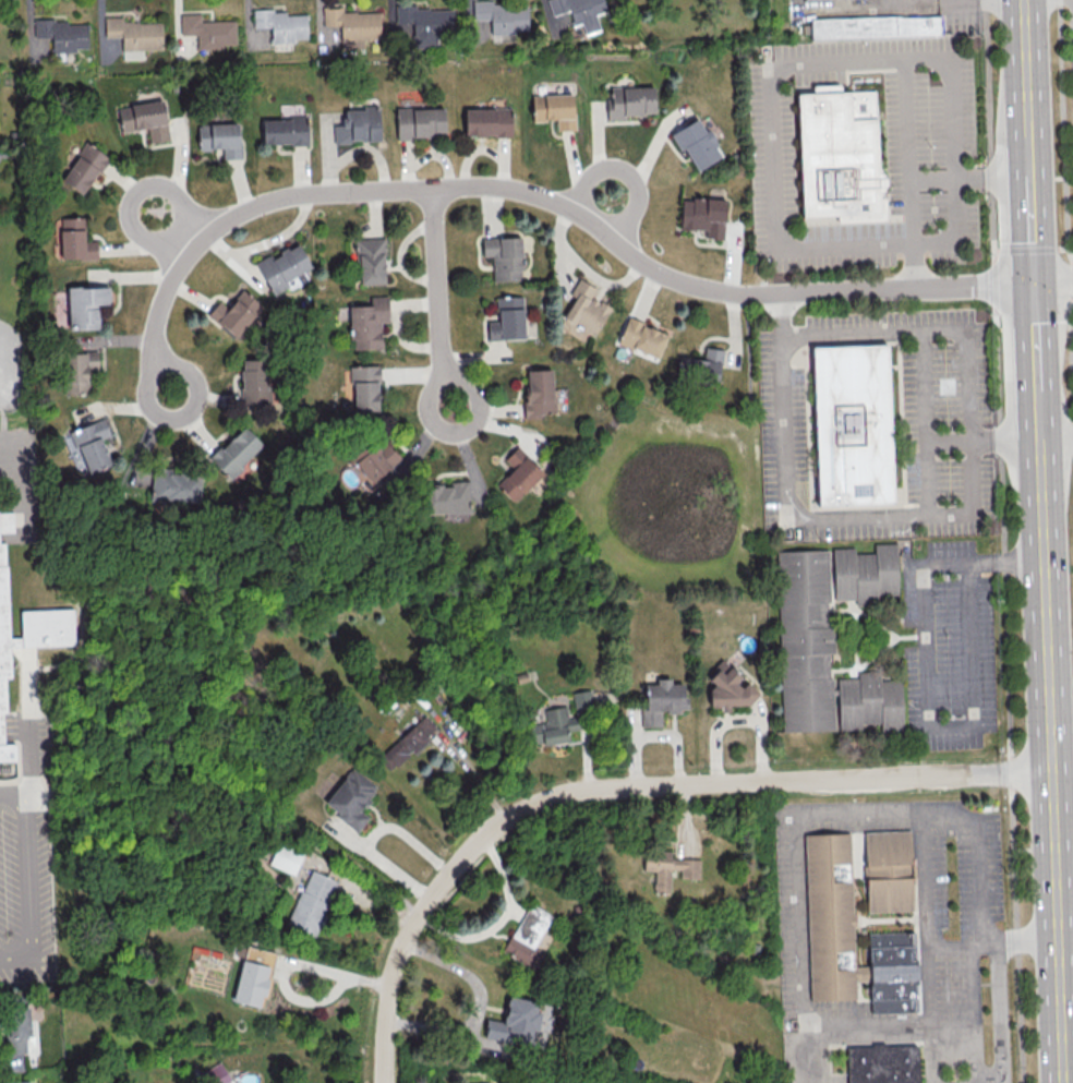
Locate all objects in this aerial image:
building: (811, 0)
road: (965, 0)
road: (963, 1)
road: (891, 2)
road: (917, 3)
road: (840, 8)
building: (579, 11)
building: (502, 15)
building: (282, 24)
building: (427, 24)
building: (352, 25)
building: (877, 27)
building: (208, 31)
building: (63, 34)
building: (134, 36)
road: (1025, 61)
road: (803, 63)
building: (630, 100)
building: (554, 109)
building: (144, 119)
building: (420, 121)
building: (486, 121)
building: (358, 125)
building: (284, 130)
road: (1063, 132)
building: (219, 137)
building: (696, 143)
road: (1028, 149)
building: (841, 154)
road: (908, 154)
building: (84, 168)
road: (625, 170)
road: (936, 179)
road: (505, 186)
road: (131, 190)
building: (703, 215)
road: (955, 229)
road: (1033, 229)
building: (74, 239)
building: (503, 256)
building: (370, 261)
road: (916, 267)
building: (284, 268)
traffic signals: (1036, 281)
road: (1054, 281)
road: (977, 284)
road: (436, 300)
building: (85, 305)
building: (584, 308)
building: (234, 313)
road: (781, 313)
building: (507, 318)
park: (4, 323)
building: (366, 323)
road: (1038, 333)
building: (641, 337)
road: (1071, 348)
road: (169, 362)
building: (700, 366)
building: (77, 370)
road: (923, 374)
building: (254, 381)
building: (364, 387)
building: (538, 393)
road: (1040, 412)
building: (855, 424)
road: (970, 424)
road: (1057, 440)
building: (89, 445)
building: (234, 452)
building: (374, 458)
road: (128, 468)
building: (518, 473)
building: (174, 485)
building: (447, 497)
road: (803, 518)
park: (439, 536)
road: (150, 538)
road: (1003, 541)
building: (867, 575)
building: (806, 640)
building: (22, 641)
road: (24, 660)
building: (728, 688)
road: (923, 690)
building: (582, 699)
building: (661, 700)
building: (871, 703)
building: (553, 726)
road: (29, 729)
building: (407, 743)
road: (1052, 760)
road: (20, 765)
road: (626, 790)
building: (350, 798)
road: (877, 808)
building: (286, 857)
parking lot: (28, 859)
building: (668, 867)
building: (890, 873)
road: (28, 878)
road: (926, 878)
building: (312, 902)
road: (1065, 918)
building: (529, 936)
building: (853, 937)
building: (257, 954)
road: (299, 954)
road: (985, 982)
building: (250, 983)
road: (927, 1006)
road: (999, 1012)
road: (974, 1015)
building: (515, 1022)
building: (15, 1037)
road: (952, 1042)
road: (929, 1049)
road: (1068, 1051)
road: (803, 1060)
building: (884, 1063)
building: (215, 1073)
building: (19, 1082)

